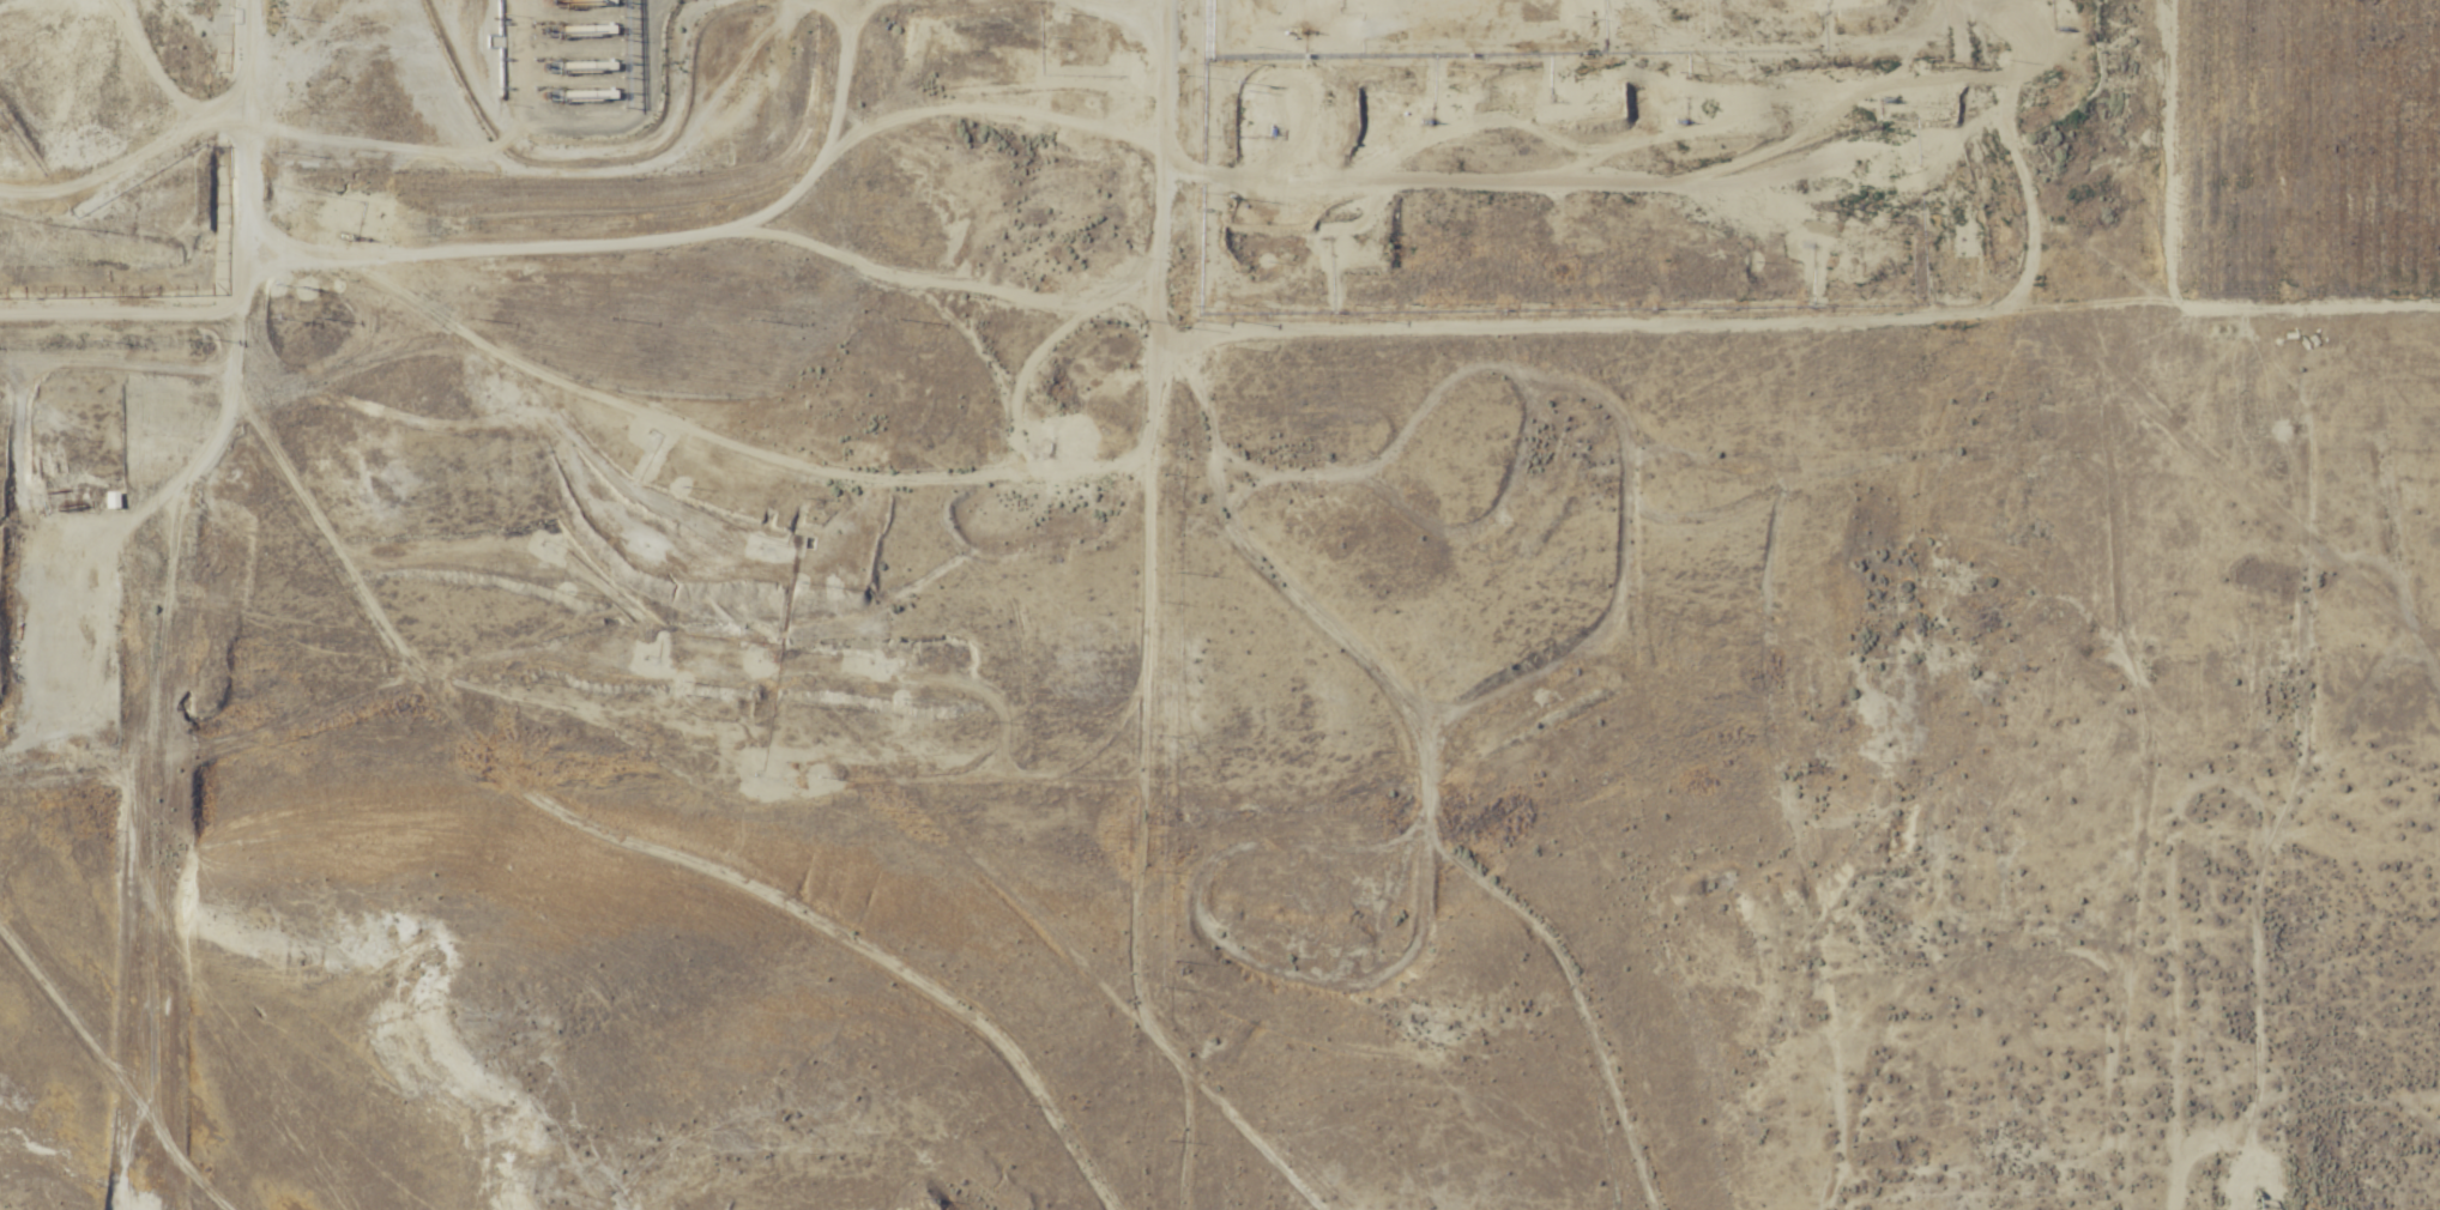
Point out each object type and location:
road: (1154, 223)
building: (108, 501)
road: (715, 601)
road: (1140, 734)

